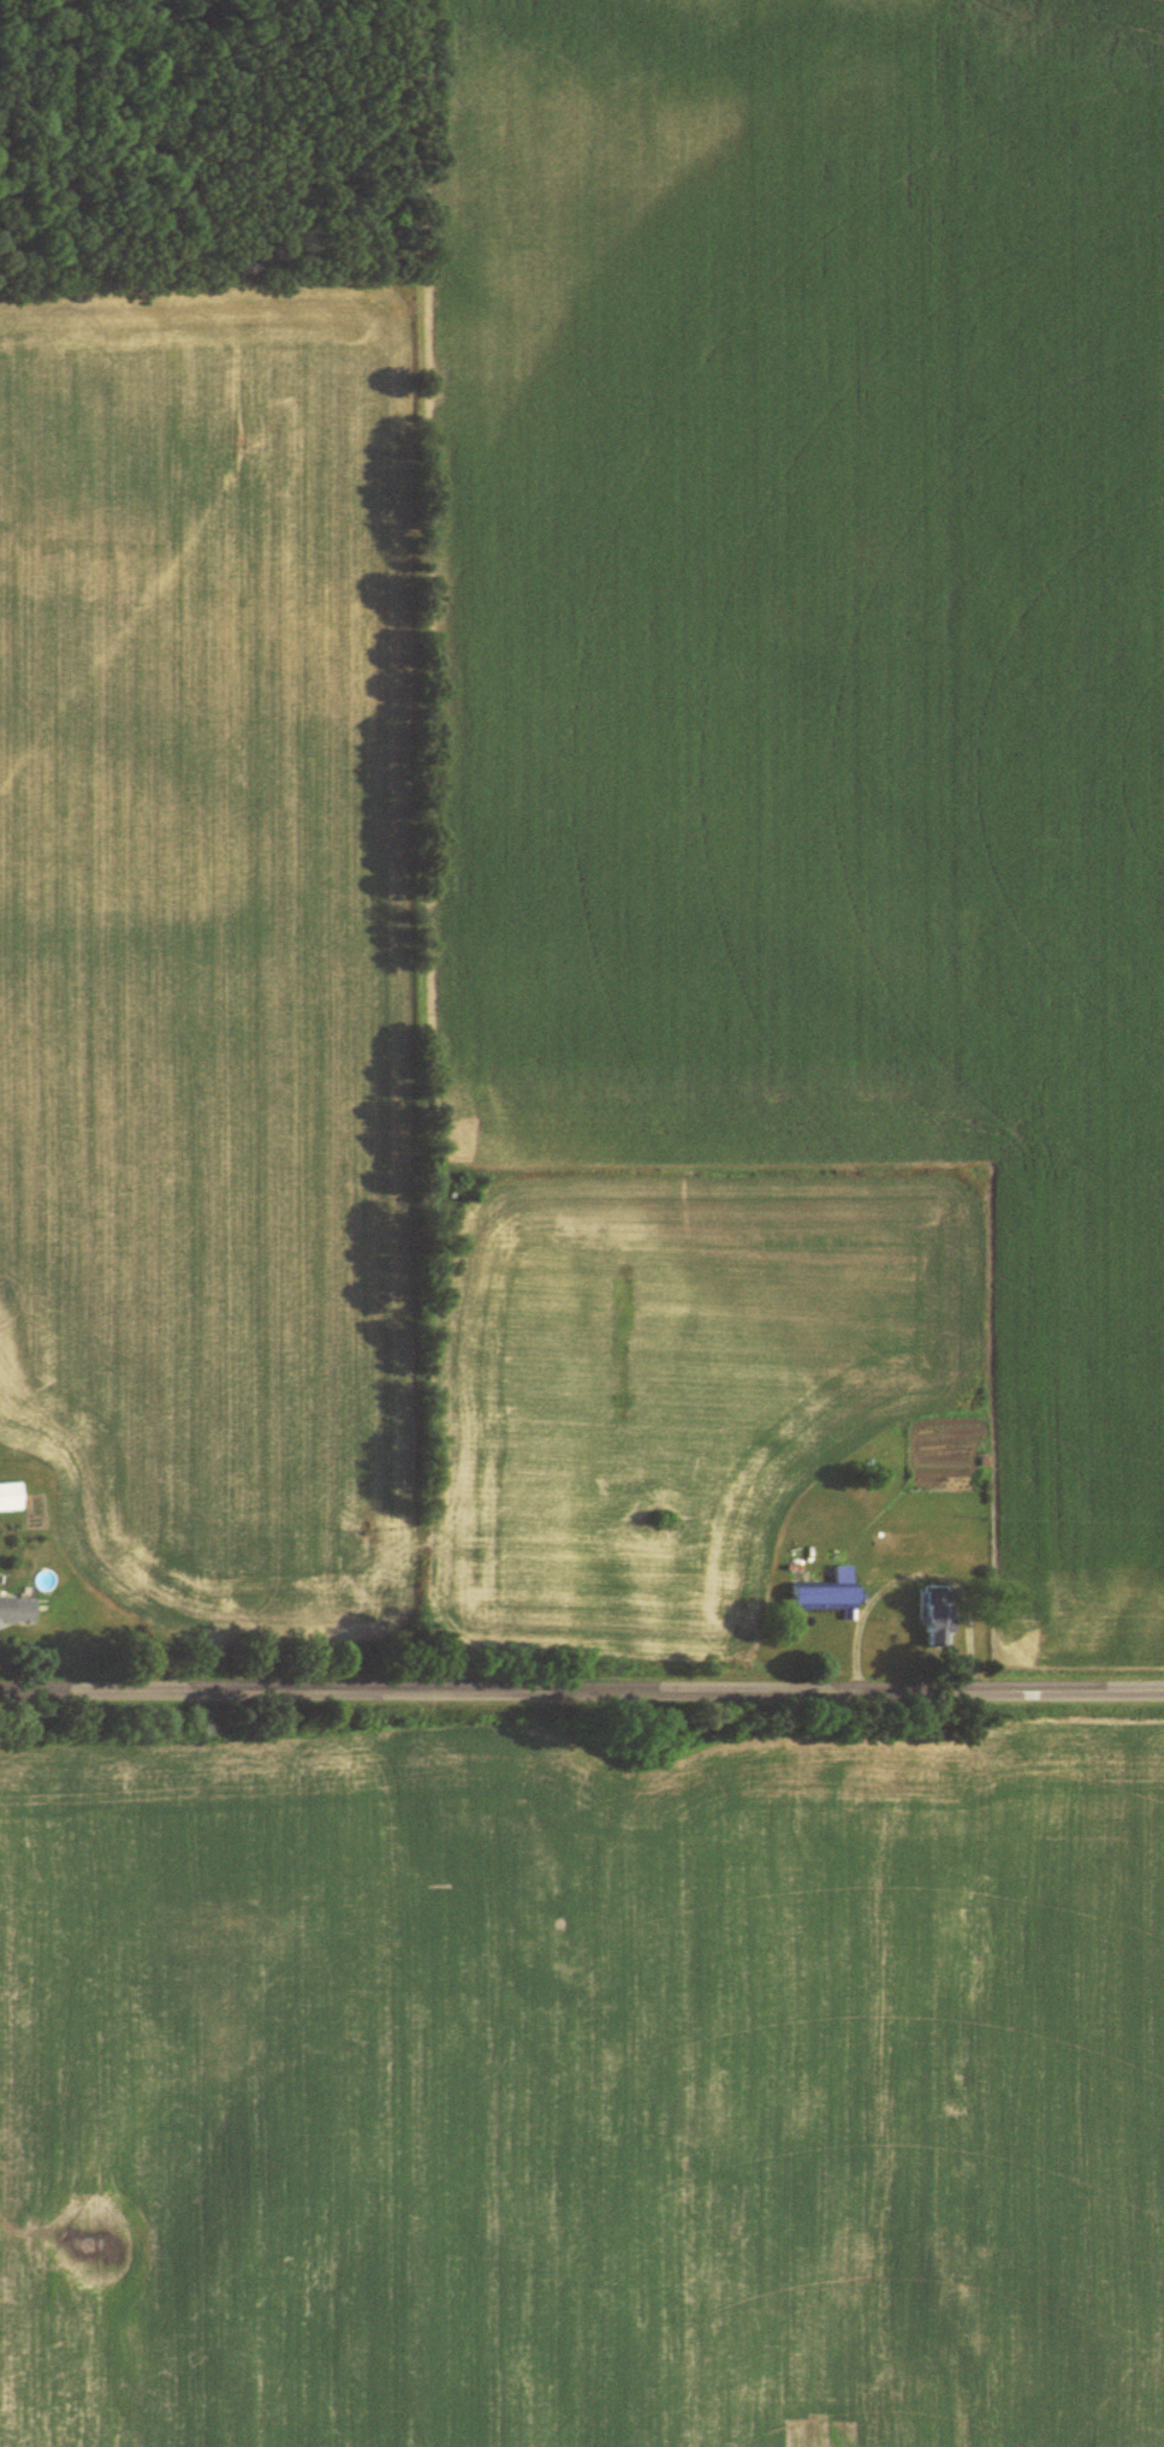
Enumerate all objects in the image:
building: (12, 1496)
building: (835, 1591)
building: (19, 1609)
building: (949, 1623)
road: (582, 1697)

